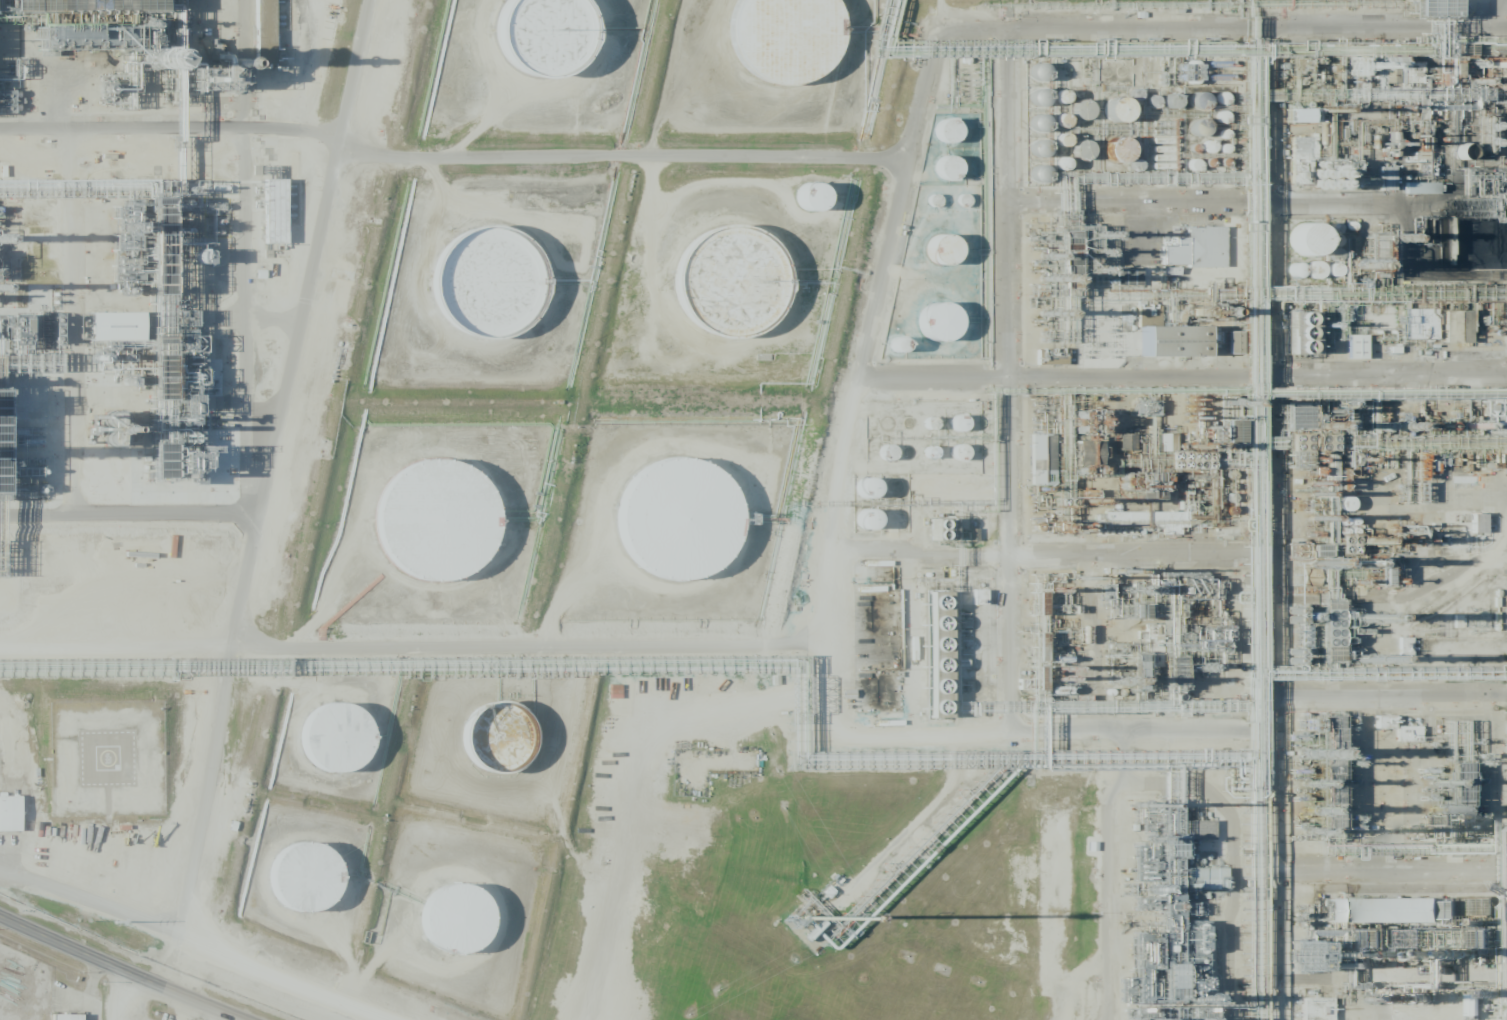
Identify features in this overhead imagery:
building: (1432, 8)
road: (1219, 30)
building: (264, 32)
building: (795, 41)
storage tank: (795, 41)
building: (558, 42)
storage tank: (558, 42)
building: (1060, 97)
building: (1171, 101)
building: (1198, 101)
building: (1082, 109)
building: (1116, 109)
building: (1299, 115)
building: (1061, 119)
building: (1128, 119)
storage tank: (1128, 119)
building: (1309, 126)
building: (946, 130)
building: (955, 138)
storage tank: (955, 138)
building: (1060, 140)
building: (1117, 149)
building: (1082, 150)
building: (1129, 161)
storage tank: (1129, 161)
building: (946, 168)
building: (956, 174)
storage tank: (956, 174)
building: (1393, 182)
building: (1420, 188)
building: (1427, 192)
building: (810, 197)
road: (1255, 203)
building: (825, 208)
storage tank: (825, 208)
building: (282, 216)
building: (39, 230)
building: (1305, 238)
building: (1195, 248)
building: (941, 249)
building: (1323, 250)
storage tank: (1323, 250)
building: (953, 258)
storage tank: (953, 258)
building: (1314, 269)
building: (1332, 270)
building: (498, 287)
storage tank: (498, 287)
building: (735, 294)
storage tank: (735, 294)
building: (948, 332)
storage tank: (948, 332)
building: (1302, 332)
building: (1462, 332)
building: (127, 334)
building: (1233, 342)
building: (1355, 347)
building: (1186, 351)
building: (1363, 351)
road: (1254, 373)
road: (850, 405)
road: (1004, 422)
building: (958, 423)
building: (958, 452)
building: (1049, 467)
road: (272, 487)
building: (866, 487)
road: (133, 515)
building: (866, 519)
building: (1477, 523)
building: (446, 528)
storage tank: (446, 528)
building: (689, 528)
storage tank: (689, 528)
road: (920, 554)
road: (1010, 638)
building: (937, 654)
building: (615, 691)
road: (1098, 733)
building: (1407, 734)
building: (508, 745)
storage tank: (508, 745)
building: (349, 748)
storage tank: (349, 748)
building: (13, 818)
building: (1202, 830)
building: (1204, 878)
building: (311, 882)
storage tank: (311, 882)
building: (1331, 910)
building: (1450, 910)
building: (1394, 915)
power tower: (114, 921)
building: (465, 928)
storage tank: (465, 928)
road: (143, 963)
building: (1316, 1009)
building: (66, 1017)

